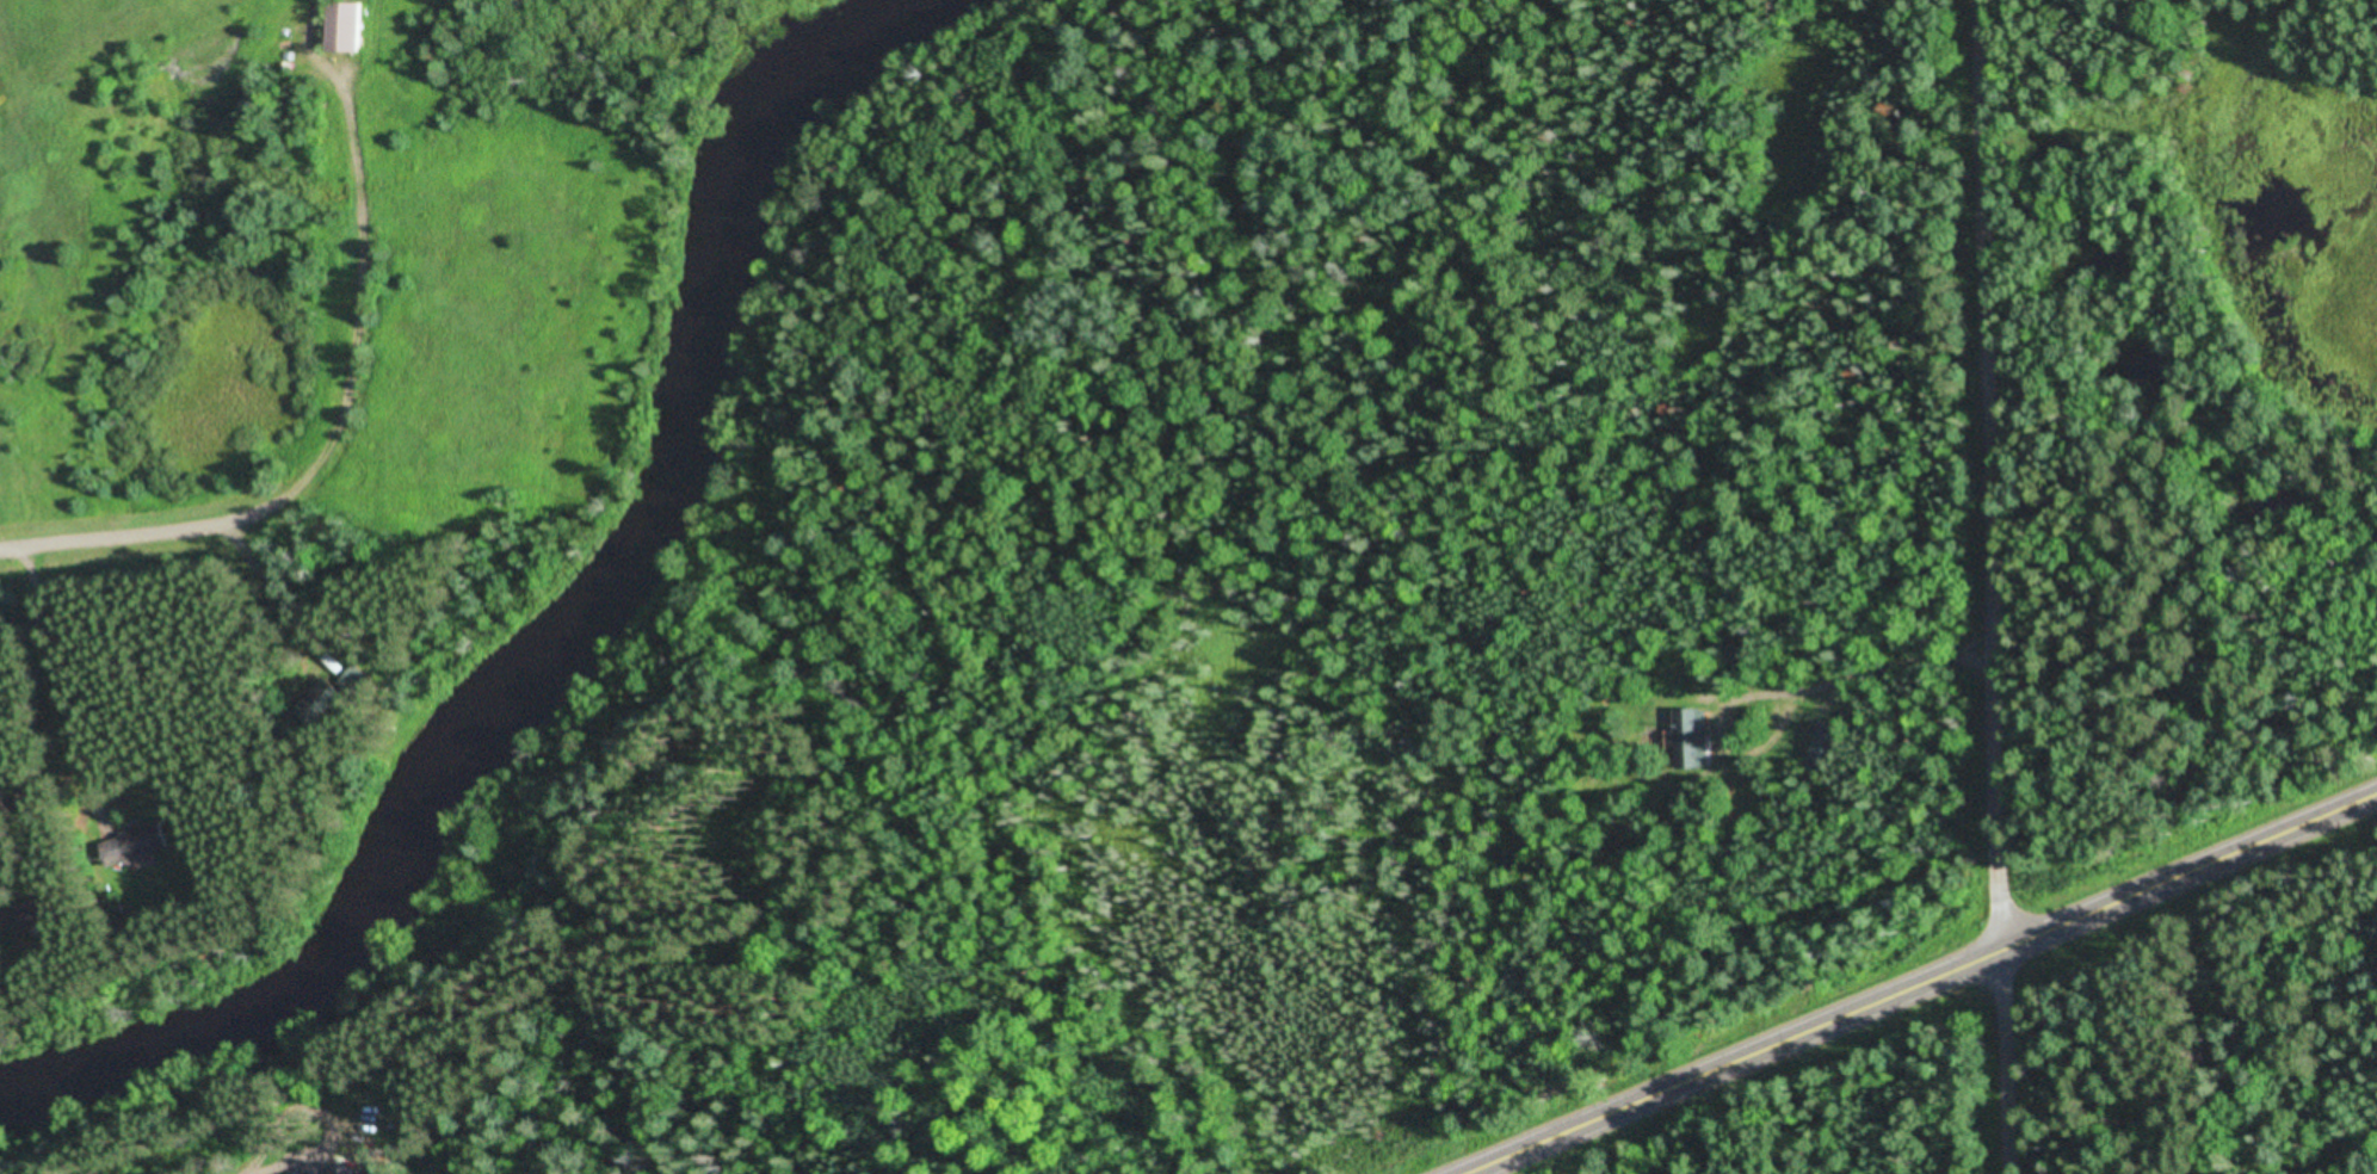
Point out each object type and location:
building: (350, 27)
road: (337, 456)
road: (1987, 480)
river: (551, 617)
building: (1694, 739)
building: (141, 846)
building: (47, 914)
road: (1926, 989)
road: (2000, 1067)

